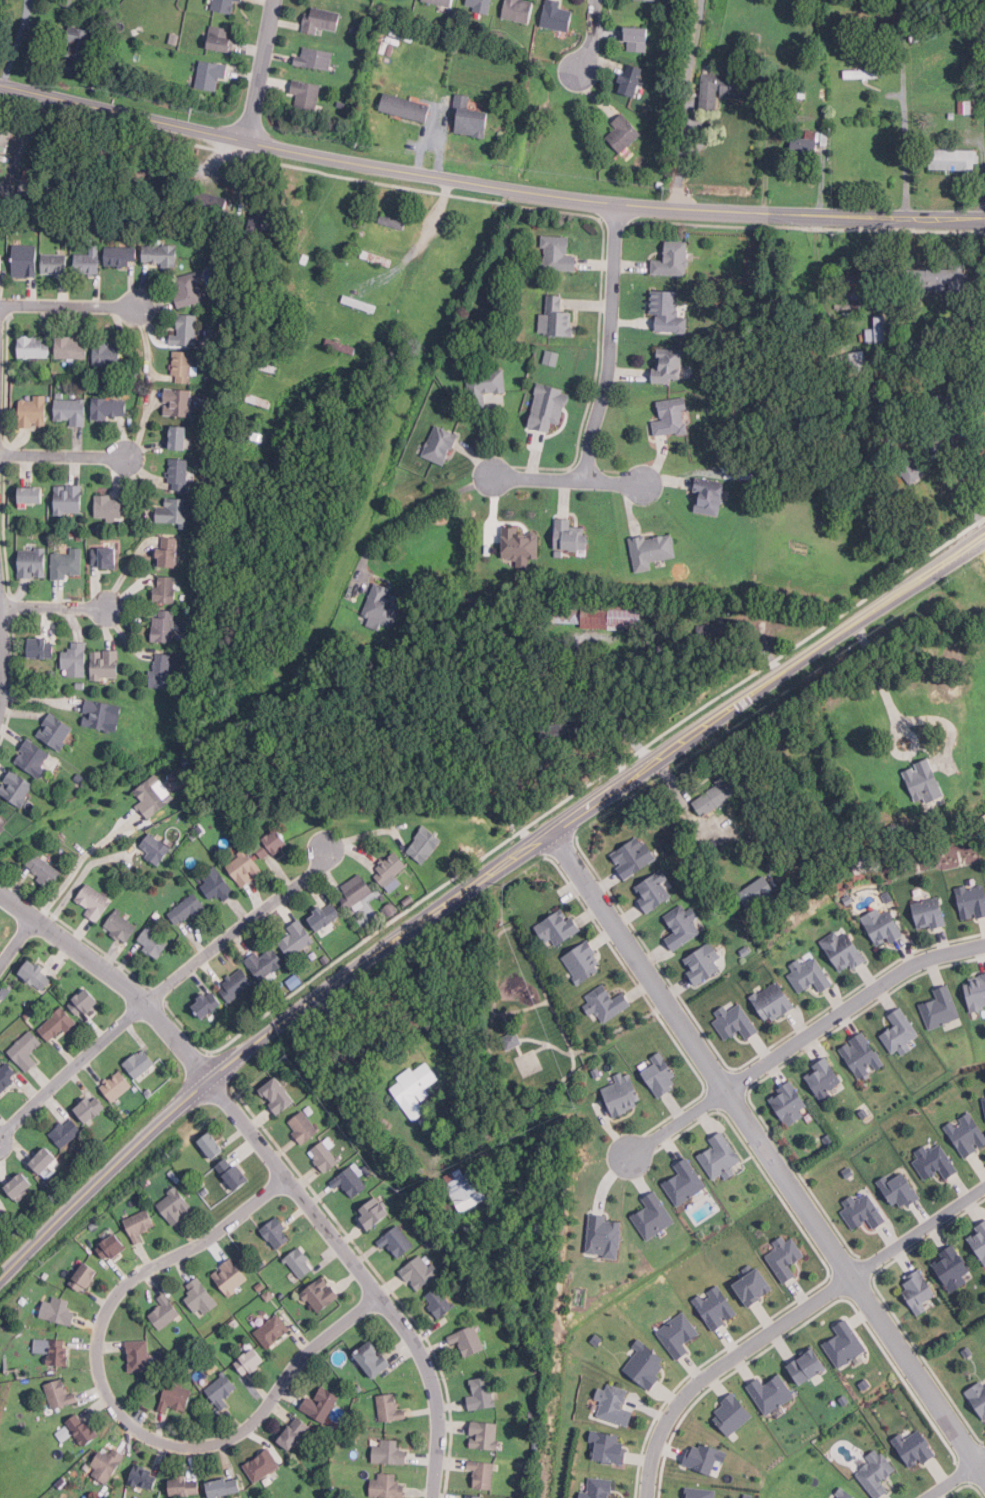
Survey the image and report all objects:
building: (653, 0)
building: (64, 2)
building: (443, 2)
building: (224, 5)
building: (479, 5)
building: (518, 9)
building: (556, 16)
building: (321, 19)
road: (592, 36)
building: (222, 38)
building: (637, 38)
building: (77, 48)
building: (315, 57)
road: (263, 70)
building: (861, 73)
building: (211, 74)
building: (631, 79)
building: (720, 88)
building: (306, 94)
road: (684, 103)
building: (405, 106)
building: (472, 115)
building: (623, 132)
building: (4, 138)
building: (807, 146)
building: (954, 160)
building: (58, 166)
building: (27, 171)
building: (96, 175)
road: (488, 184)
building: (159, 187)
building: (209, 204)
building: (389, 221)
building: (51, 224)
building: (558, 254)
building: (160, 255)
building: (121, 256)
building: (374, 257)
building: (303, 258)
building: (673, 259)
building: (26, 260)
building: (89, 261)
building: (2, 263)
building: (55, 263)
building: (937, 278)
building: (852, 285)
building: (189, 288)
building: (356, 303)
road: (70, 305)
building: (668, 311)
road: (390, 315)
building: (556, 317)
building: (875, 329)
building: (186, 330)
road: (609, 342)
building: (338, 345)
building: (920, 345)
building: (34, 347)
building: (71, 347)
building: (107, 354)
building: (548, 358)
building: (852, 361)
building: (669, 365)
building: (182, 366)
building: (262, 366)
building: (484, 385)
building: (879, 392)
building: (900, 394)
building: (256, 400)
building: (178, 402)
building: (951, 402)
building: (547, 406)
building: (110, 408)
building: (71, 410)
building: (33, 411)
building: (672, 417)
building: (851, 423)
building: (856, 429)
building: (912, 429)
building: (247, 433)
building: (862, 436)
building: (179, 439)
building: (441, 444)
road: (64, 455)
building: (911, 466)
building: (178, 474)
road: (570, 478)
road: (965, 486)
building: (32, 495)
building: (710, 496)
building: (68, 499)
building: (109, 505)
building: (174, 511)
road: (414, 513)
building: (571, 535)
building: (521, 544)
building: (652, 550)
building: (169, 552)
building: (105, 557)
building: (33, 563)
building: (68, 563)
building: (166, 589)
road: (909, 592)
road: (55, 605)
building: (382, 606)
building: (606, 616)
building: (164, 626)
building: (42, 649)
building: (75, 659)
building: (106, 665)
road: (3, 668)
building: (161, 671)
building: (98, 714)
road: (894, 714)
building: (561, 730)
building: (55, 731)
road: (664, 754)
building: (33, 757)
building: (926, 782)
building: (17, 787)
building: (719, 794)
building: (149, 795)
building: (2, 830)
building: (886, 831)
building: (425, 843)
building: (272, 844)
building: (155, 848)
building: (633, 856)
road: (81, 861)
building: (245, 868)
building: (43, 870)
building: (388, 870)
road: (77, 879)
building: (216, 884)
building: (355, 890)
building: (654, 890)
building: (757, 891)
building: (885, 897)
building: (845, 900)
building: (970, 901)
building: (94, 902)
building: (187, 910)
building: (930, 913)
building: (325, 916)
building: (122, 926)
building: (682, 926)
building: (883, 926)
road: (242, 927)
building: (559, 928)
building: (297, 939)
road: (17, 941)
building: (153, 942)
building: (743, 950)
building: (844, 950)
building: (265, 963)
building: (584, 963)
building: (704, 963)
building: (36, 976)
building: (811, 976)
road: (115, 977)
building: (230, 985)
building: (976, 993)
building: (774, 1001)
building: (85, 1003)
building: (607, 1004)
building: (204, 1006)
building: (938, 1008)
building: (731, 1022)
building: (57, 1025)
building: (901, 1033)
building: (512, 1040)
road: (802, 1040)
building: (25, 1051)
building: (858, 1055)
road: (236, 1061)
building: (140, 1063)
road: (71, 1068)
building: (595, 1072)
building: (660, 1075)
building: (7, 1076)
building: (820, 1078)
building: (116, 1085)
building: (415, 1089)
building: (984, 1089)
building: (984, 1091)
building: (619, 1095)
building: (278, 1096)
building: (784, 1104)
building: (983, 1105)
building: (90, 1110)
building: (862, 1114)
building: (303, 1127)
building: (66, 1132)
building: (965, 1135)
building: (827, 1139)
building: (204, 1143)
building: (213, 1145)
road: (765, 1146)
building: (324, 1156)
building: (721, 1156)
building: (36, 1159)
building: (45, 1160)
building: (935, 1161)
building: (846, 1172)
building: (233, 1173)
building: (350, 1181)
building: (682, 1182)
building: (20, 1185)
building: (895, 1190)
building: (469, 1196)
building: (175, 1206)
building: (863, 1211)
building: (375, 1212)
building: (650, 1216)
building: (140, 1224)
road: (918, 1231)
building: (277, 1233)
building: (601, 1237)
building: (979, 1239)
building: (396, 1240)
building: (113, 1248)
building: (783, 1257)
building: (300, 1263)
building: (952, 1268)
building: (420, 1272)
road: (362, 1274)
building: (230, 1277)
building: (85, 1278)
building: (750, 1285)
building: (920, 1290)
building: (321, 1295)
building: (201, 1298)
building: (439, 1301)
building: (712, 1306)
building: (60, 1312)
building: (165, 1312)
building: (273, 1331)
building: (675, 1334)
building: (595, 1339)
building: (468, 1340)
building: (842, 1342)
building: (59, 1352)
building: (966, 1352)
building: (138, 1355)
building: (375, 1359)
building: (251, 1361)
road: (718, 1363)
building: (643, 1365)
building: (803, 1365)
building: (863, 1383)
building: (222, 1391)
building: (768, 1392)
building: (60, 1394)
building: (482, 1394)
building: (176, 1397)
building: (842, 1398)
building: (976, 1399)
building: (615, 1404)
building: (320, 1405)
building: (390, 1407)
road: (117, 1412)
building: (730, 1413)
building: (82, 1429)
building: (60, 1433)
building: (294, 1433)
building: (484, 1435)
building: (605, 1446)
building: (911, 1446)
building: (389, 1452)
building: (702, 1456)
road: (981, 1461)
building: (107, 1464)
building: (262, 1465)
road: (981, 1469)
building: (482, 1473)
building: (876, 1473)
building: (142, 1477)
road: (949, 1481)
building: (183, 1486)
building: (225, 1486)
building: (387, 1486)
building: (595, 1488)
building: (698, 1492)
building: (845, 1494)
building: (473, 1495)
building: (746, 1495)

